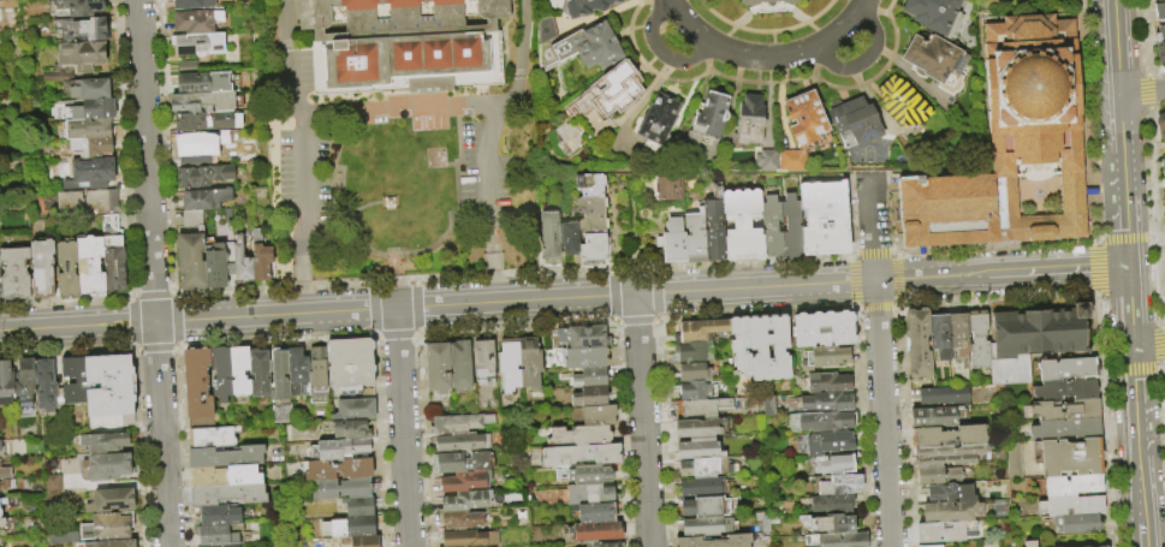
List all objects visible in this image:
road: (670, 1)
building: (1160, 1)
building: (194, 4)
road: (677, 4)
building: (771, 4)
building: (584, 6)
road: (861, 6)
building: (78, 7)
building: (1159, 11)
building: (933, 12)
building: (197, 22)
road: (688, 24)
road: (285, 25)
building: (82, 30)
road: (818, 30)
road: (766, 31)
road: (838, 31)
building: (1160, 35)
road: (726, 36)
building: (196, 43)
building: (400, 43)
building: (579, 44)
road: (519, 50)
road: (660, 52)
building: (1161, 52)
building: (82, 55)
road: (761, 57)
building: (935, 59)
road: (862, 60)
road: (295, 72)
building: (202, 83)
road: (1116, 87)
building: (91, 89)
building: (611, 90)
road: (1141, 91)
building: (903, 101)
building: (202, 102)
road: (482, 102)
road: (299, 103)
road: (427, 106)
building: (95, 109)
road: (355, 109)
building: (712, 114)
building: (806, 118)
building: (659, 119)
building: (751, 119)
building: (208, 121)
building: (855, 121)
building: (1160, 124)
building: (90, 129)
building: (220, 138)
building: (192, 143)
building: (1011, 143)
building: (89, 149)
building: (767, 159)
building: (793, 160)
building: (196, 162)
road: (494, 166)
building: (1163, 166)
road: (302, 170)
building: (93, 171)
building: (204, 177)
building: (1164, 180)
building: (590, 183)
building: (665, 188)
building: (89, 201)
building: (197, 201)
building: (1163, 206)
building: (593, 213)
building: (825, 216)
building: (192, 219)
building: (1164, 219)
road: (1124, 220)
building: (743, 224)
building: (714, 226)
building: (772, 226)
building: (792, 226)
building: (696, 236)
building: (551, 238)
building: (570, 238)
building: (673, 242)
building: (594, 250)
building: (261, 257)
building: (191, 260)
road: (491, 260)
building: (242, 263)
building: (114, 266)
building: (90, 267)
traffic signals: (1128, 267)
building: (42, 268)
building: (67, 268)
building: (216, 269)
road: (303, 270)
road: (151, 273)
building: (14, 274)
road: (512, 274)
building: (1164, 281)
road: (373, 284)
road: (297, 286)
building: (0, 292)
road: (151, 292)
road: (173, 292)
road: (130, 293)
road: (65, 299)
road: (563, 299)
road: (415, 307)
road: (372, 308)
road: (1130, 309)
building: (824, 329)
building: (700, 331)
building: (1040, 332)
road: (417, 333)
building: (959, 333)
road: (373, 335)
road: (396, 337)
building: (583, 337)
building: (940, 337)
building: (980, 341)
building: (919, 344)
building: (741, 345)
building: (779, 346)
building: (759, 347)
road: (1148, 347)
building: (693, 352)
building: (584, 357)
building: (825, 357)
road: (879, 359)
building: (483, 362)
building: (460, 364)
building: (530, 364)
building: (351, 365)
building: (510, 367)
building: (439, 368)
building: (1022, 368)
building: (297, 369)
building: (239, 370)
building: (1069, 370)
building: (693, 371)
building: (1003, 371)
building: (221, 373)
building: (317, 373)
building: (260, 374)
building: (594, 376)
building: (72, 380)
building: (24, 382)
building: (198, 382)
building: (5, 384)
building: (826, 384)
building: (109, 385)
building: (46, 386)
building: (280, 387)
building: (695, 391)
building: (1066, 391)
building: (593, 397)
building: (945, 397)
building: (825, 403)
building: (768, 405)
building: (706, 408)
building: (355, 409)
building: (1064, 410)
building: (600, 415)
building: (935, 417)
road: (642, 421)
building: (821, 422)
building: (459, 423)
road: (402, 428)
building: (349, 429)
building: (700, 429)
building: (1066, 429)
road: (1136, 430)
building: (582, 435)
building: (213, 436)
building: (949, 436)
building: (101, 442)
building: (463, 444)
building: (828, 444)
building: (0, 445)
building: (340, 448)
building: (699, 451)
building: (0, 452)
building: (582, 454)
building: (949, 456)
building: (226, 457)
building: (1069, 457)
building: (1015, 460)
building: (463, 463)
building: (834, 464)
building: (107, 465)
building: (66, 466)
building: (702, 468)
building: (339, 469)
building: (5, 472)
building: (587, 474)
building: (225, 476)
building: (938, 476)
building: (465, 481)
building: (53, 482)
building: (6, 484)
building: (840, 486)
building: (1072, 486)
building: (702, 487)
building: (343, 488)
building: (228, 494)
building: (586, 494)
building: (950, 494)
building: (2, 501)
building: (111, 501)
building: (465, 501)
building: (833, 504)
building: (359, 506)
building: (708, 506)
building: (1074, 506)
building: (951, 511)
building: (0, 512)
building: (593, 512)
building: (219, 513)
building: (463, 521)
building: (2, 522)
building: (832, 524)
building: (1081, 524)
building: (361, 525)
building: (706, 525)
building: (107, 527)
building: (334, 528)
road: (1141, 529)
building: (595, 533)
building: (941, 533)
building: (220, 534)
building: (60, 537)
building: (470, 539)
building: (837, 540)
building: (363, 541)
building: (715, 541)
building: (108, 543)
building: (226, 545)
building: (605, 545)
building: (1030, 545)
building: (934, 546)
building: (1102, 546)

